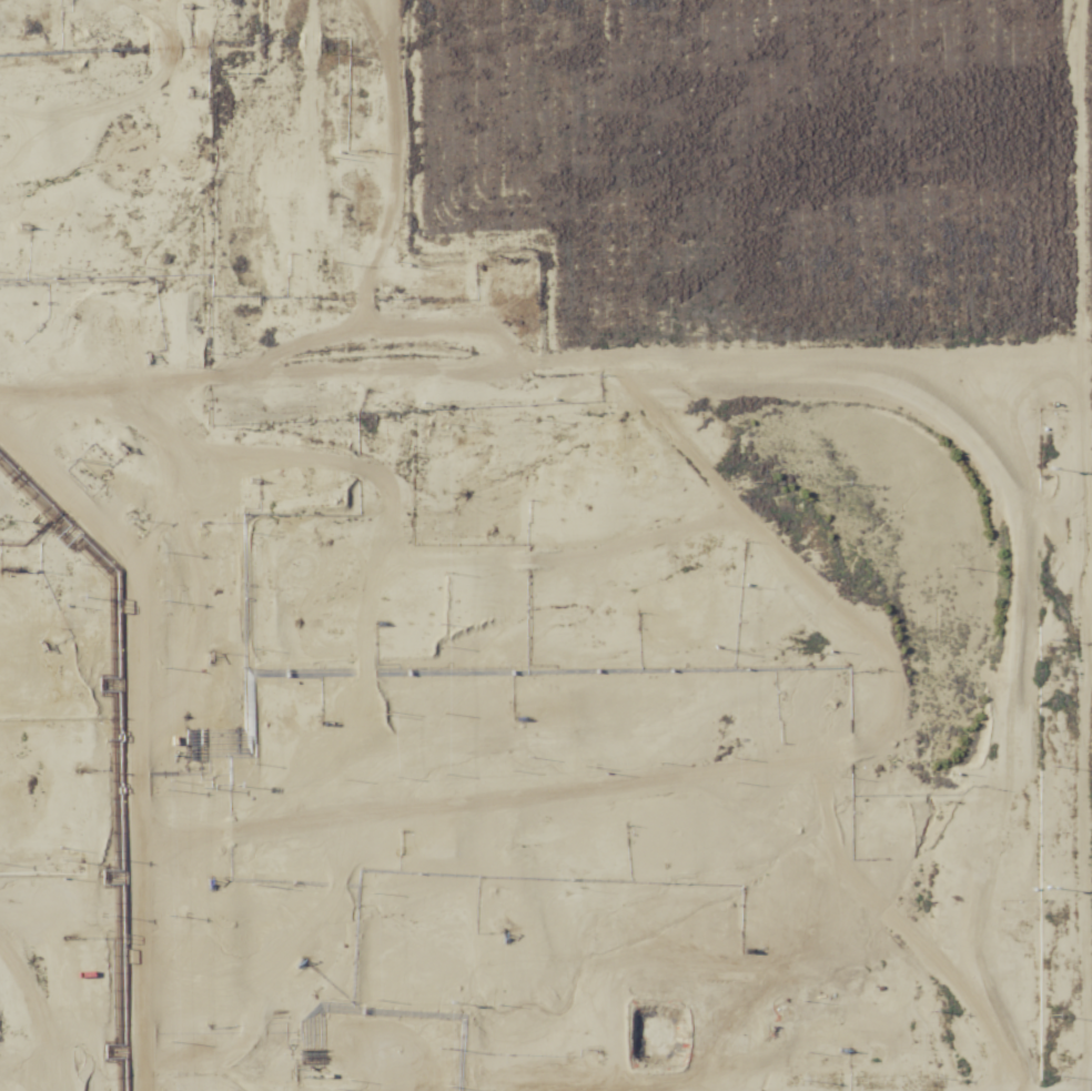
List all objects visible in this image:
road: (666, 253)
wastewater plant: (333, 944)
wastewater plant: (241, 956)
wastewater plant: (148, 968)
wastewater plant: (58, 981)
wastewater plant: (3, 996)

